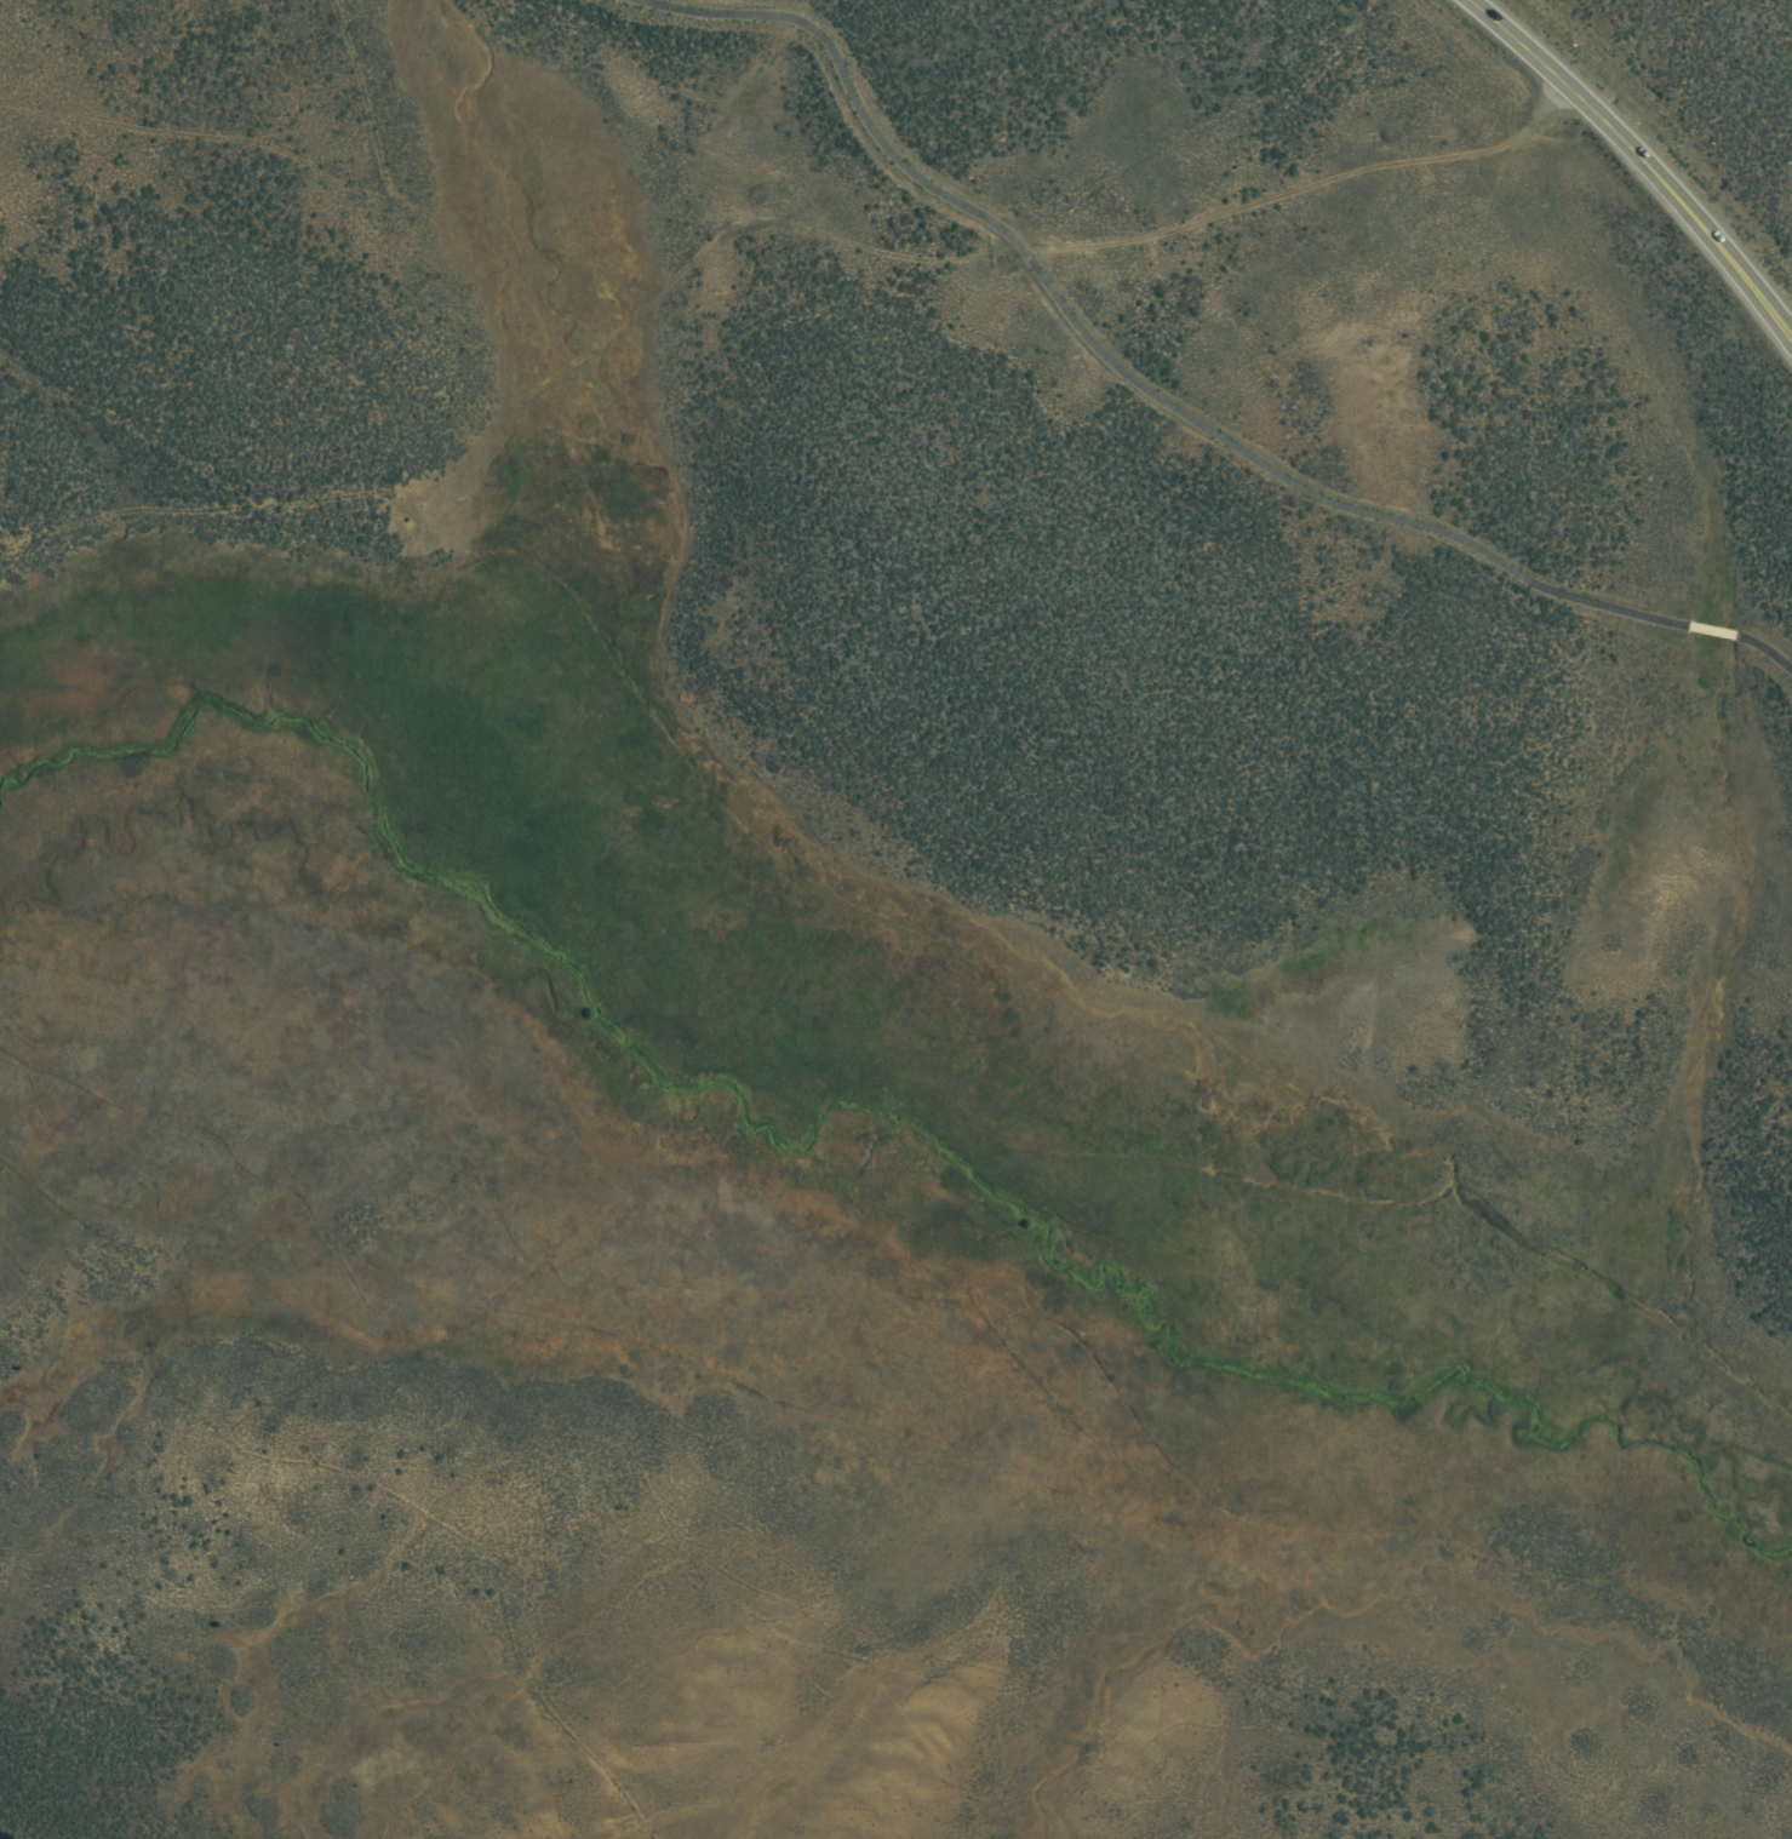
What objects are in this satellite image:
airport: (1712, 80)
road: (1639, 161)
road: (1111, 367)
road: (1702, 628)
road: (1763, 649)

